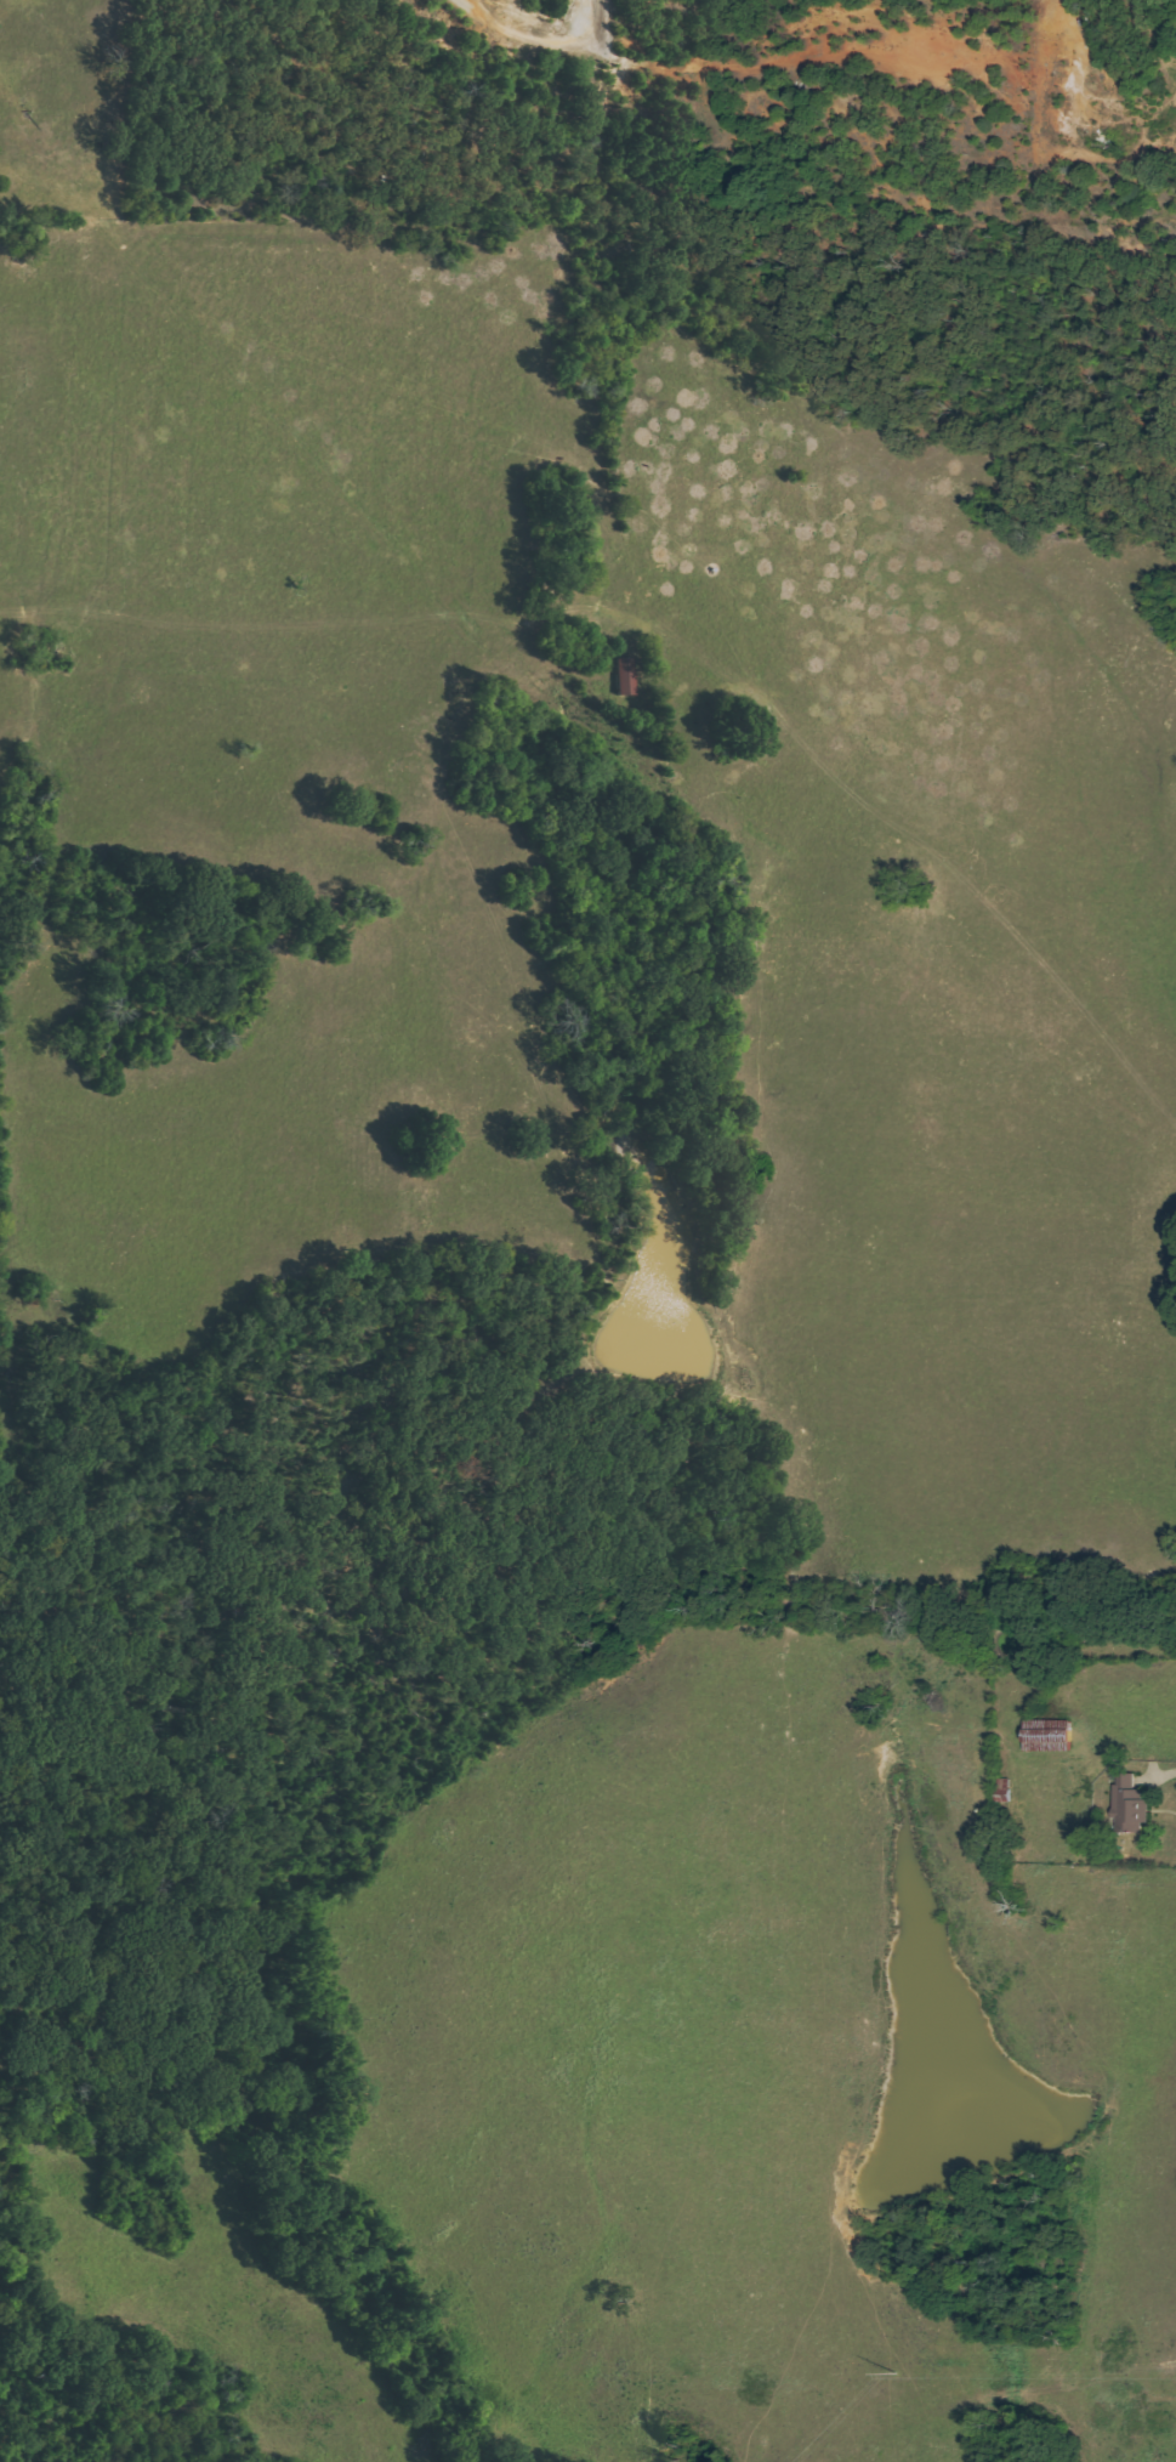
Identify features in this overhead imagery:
road: (597, 23)
road: (529, 34)
building: (626, 675)
power tower: (896, 2373)

